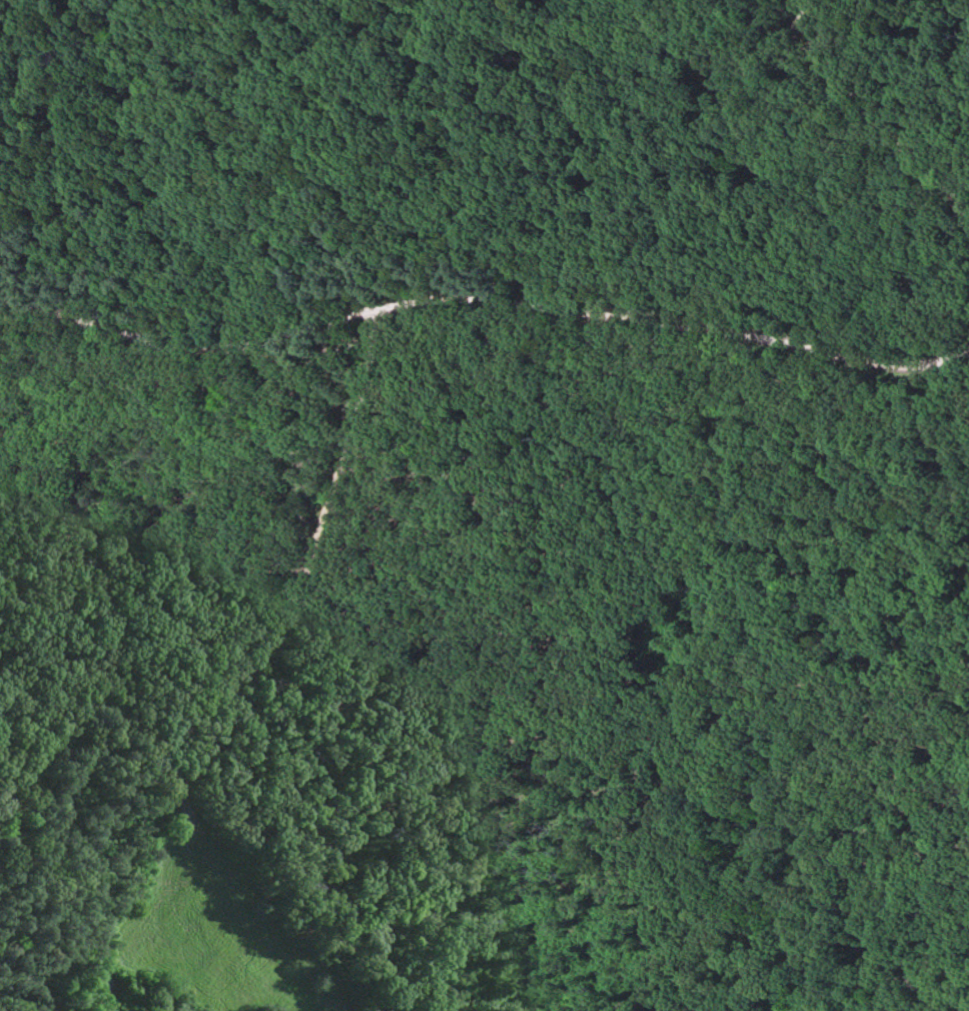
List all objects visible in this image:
road: (876, 112)
road: (480, 310)
road: (389, 397)
road: (213, 681)

